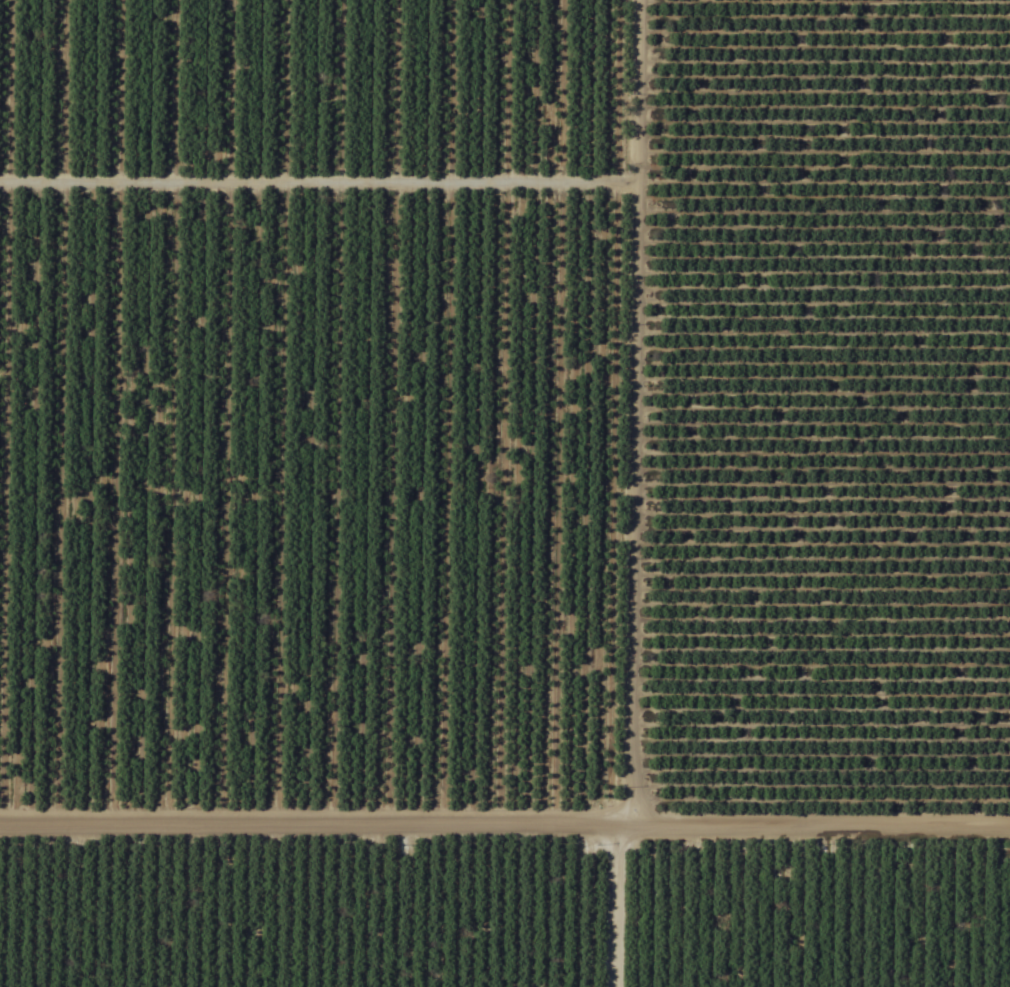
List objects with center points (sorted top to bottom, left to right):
crop: (505, 493)
road: (603, 493)
road: (133, 551)
road: (297, 822)
road: (802, 824)

